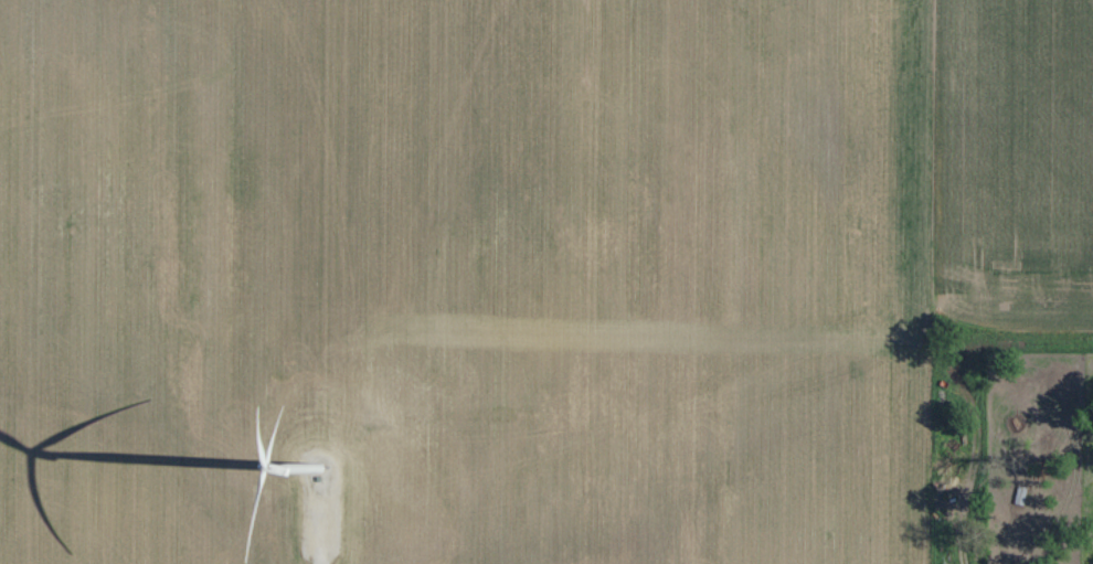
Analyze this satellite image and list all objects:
wind turbine: (317, 466)
building: (1016, 514)

